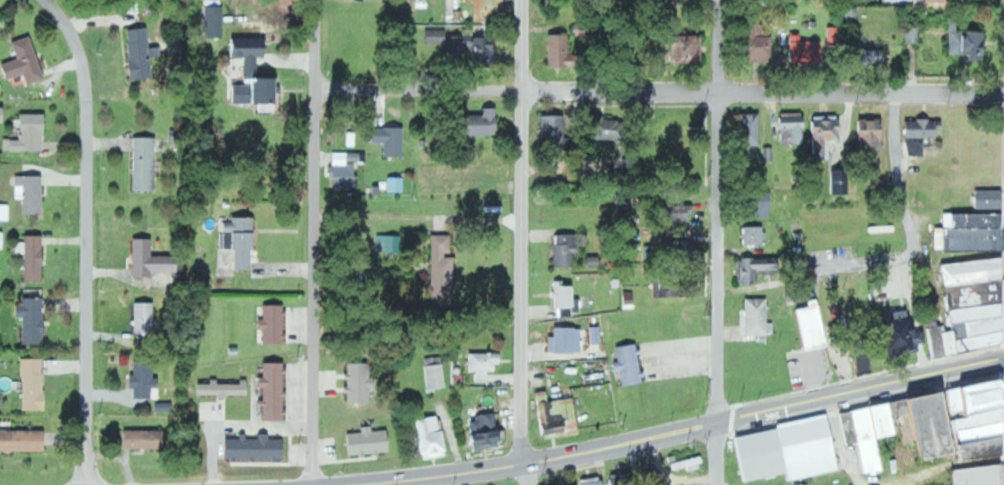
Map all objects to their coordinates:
building: (680, 0)
building: (941, 0)
building: (483, 8)
building: (214, 21)
building: (837, 33)
building: (913, 34)
building: (969, 42)
building: (473, 46)
building: (693, 47)
building: (768, 47)
building: (566, 50)
building: (806, 50)
building: (141, 53)
building: (26, 61)
building: (1, 86)
building: (259, 86)
road: (659, 91)
building: (3, 113)
building: (486, 122)
building: (752, 126)
building: (795, 129)
building: (555, 130)
building: (30, 133)
building: (872, 134)
building: (923, 134)
building: (828, 135)
building: (620, 139)
building: (393, 140)
road: (897, 141)
building: (147, 163)
building: (347, 168)
building: (842, 180)
building: (32, 192)
building: (989, 199)
road: (718, 210)
building: (5, 211)
building: (976, 220)
road: (522, 232)
building: (755, 235)
road: (87, 236)
building: (971, 238)
building: (2, 239)
building: (241, 239)
road: (314, 242)
building: (390, 243)
building: (681, 244)
building: (567, 249)
road: (905, 254)
building: (34, 256)
building: (154, 259)
building: (758, 268)
building: (444, 270)
building: (975, 271)
building: (672, 286)
building: (977, 293)
building: (567, 295)
building: (978, 312)
building: (760, 316)
building: (34, 319)
building: (275, 323)
building: (817, 325)
building: (980, 326)
building: (596, 335)
building: (568, 340)
building: (982, 340)
building: (940, 341)
building: (954, 341)
building: (485, 363)
building: (631, 363)
building: (436, 372)
building: (146, 378)
building: (360, 382)
building: (35, 383)
building: (225, 388)
building: (275, 390)
road: (862, 390)
building: (979, 397)
building: (550, 415)
building: (883, 420)
building: (938, 426)
building: (848, 427)
building: (488, 430)
building: (983, 433)
building: (434, 437)
building: (147, 438)
building: (24, 439)
building: (867, 439)
building: (370, 441)
building: (257, 447)
building: (788, 451)
road: (719, 453)
road: (530, 463)
road: (527, 474)
building: (979, 475)
building: (621, 479)
building: (585, 482)

